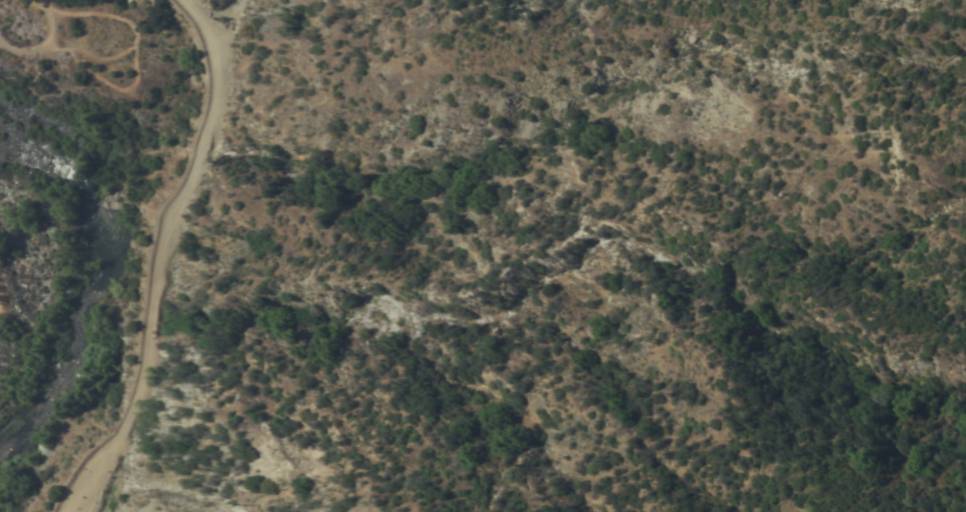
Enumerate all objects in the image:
road: (163, 258)
river: (97, 281)

